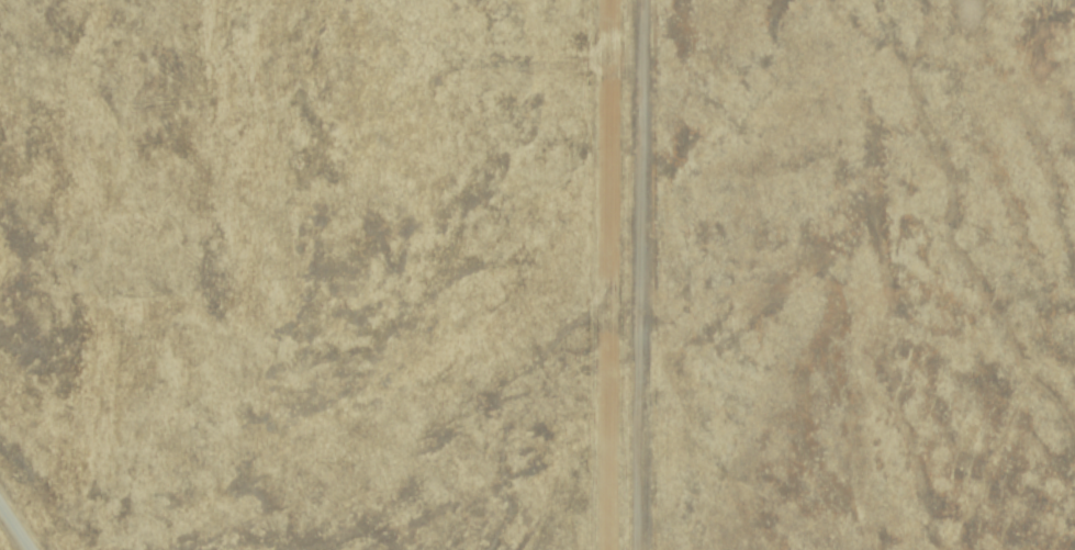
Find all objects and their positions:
airport: (321, 274)
road: (619, 274)
road: (15, 525)

